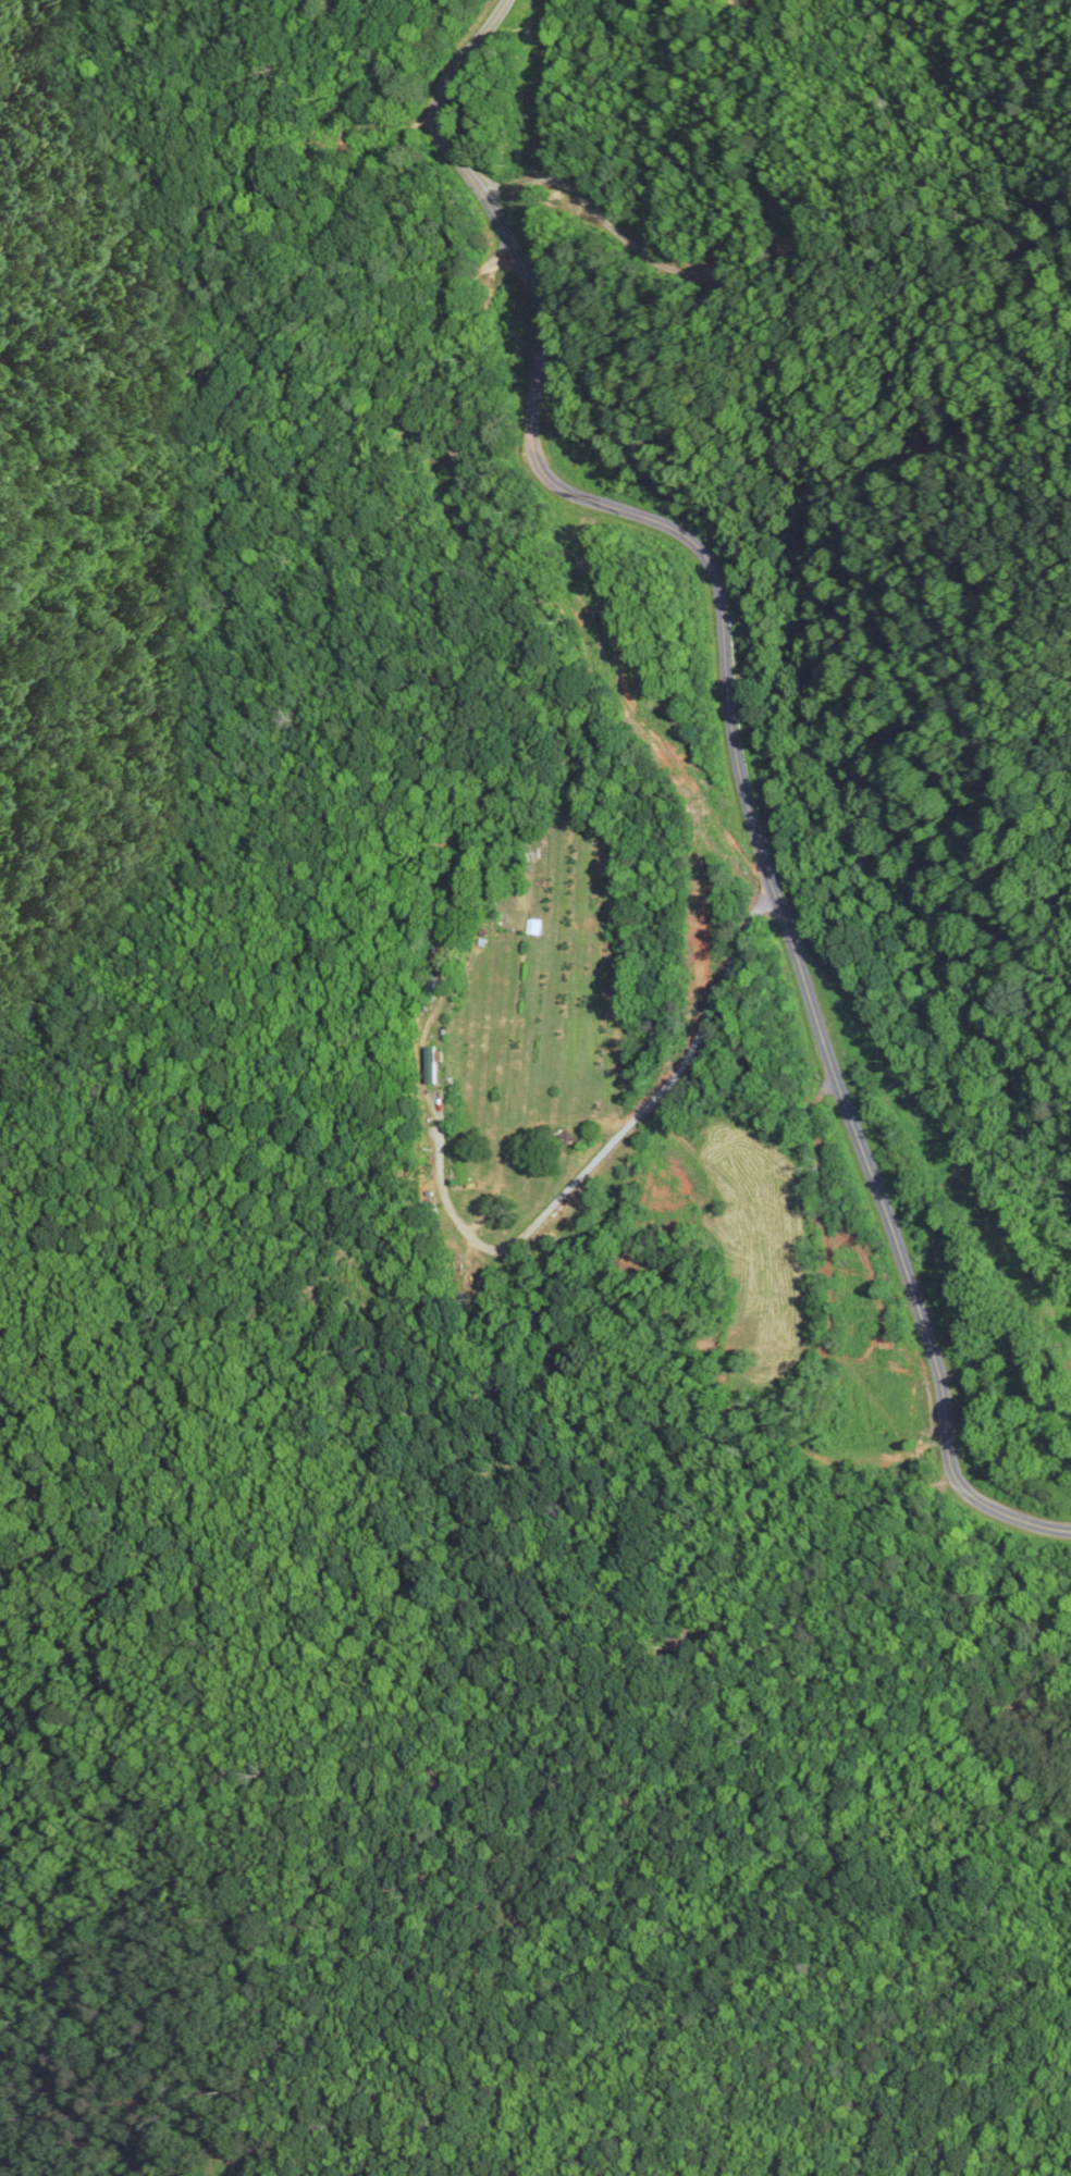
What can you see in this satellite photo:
road: (436, 124)
road: (623, 238)
road: (768, 883)
building: (428, 978)
building: (431, 1064)
road: (602, 1152)

